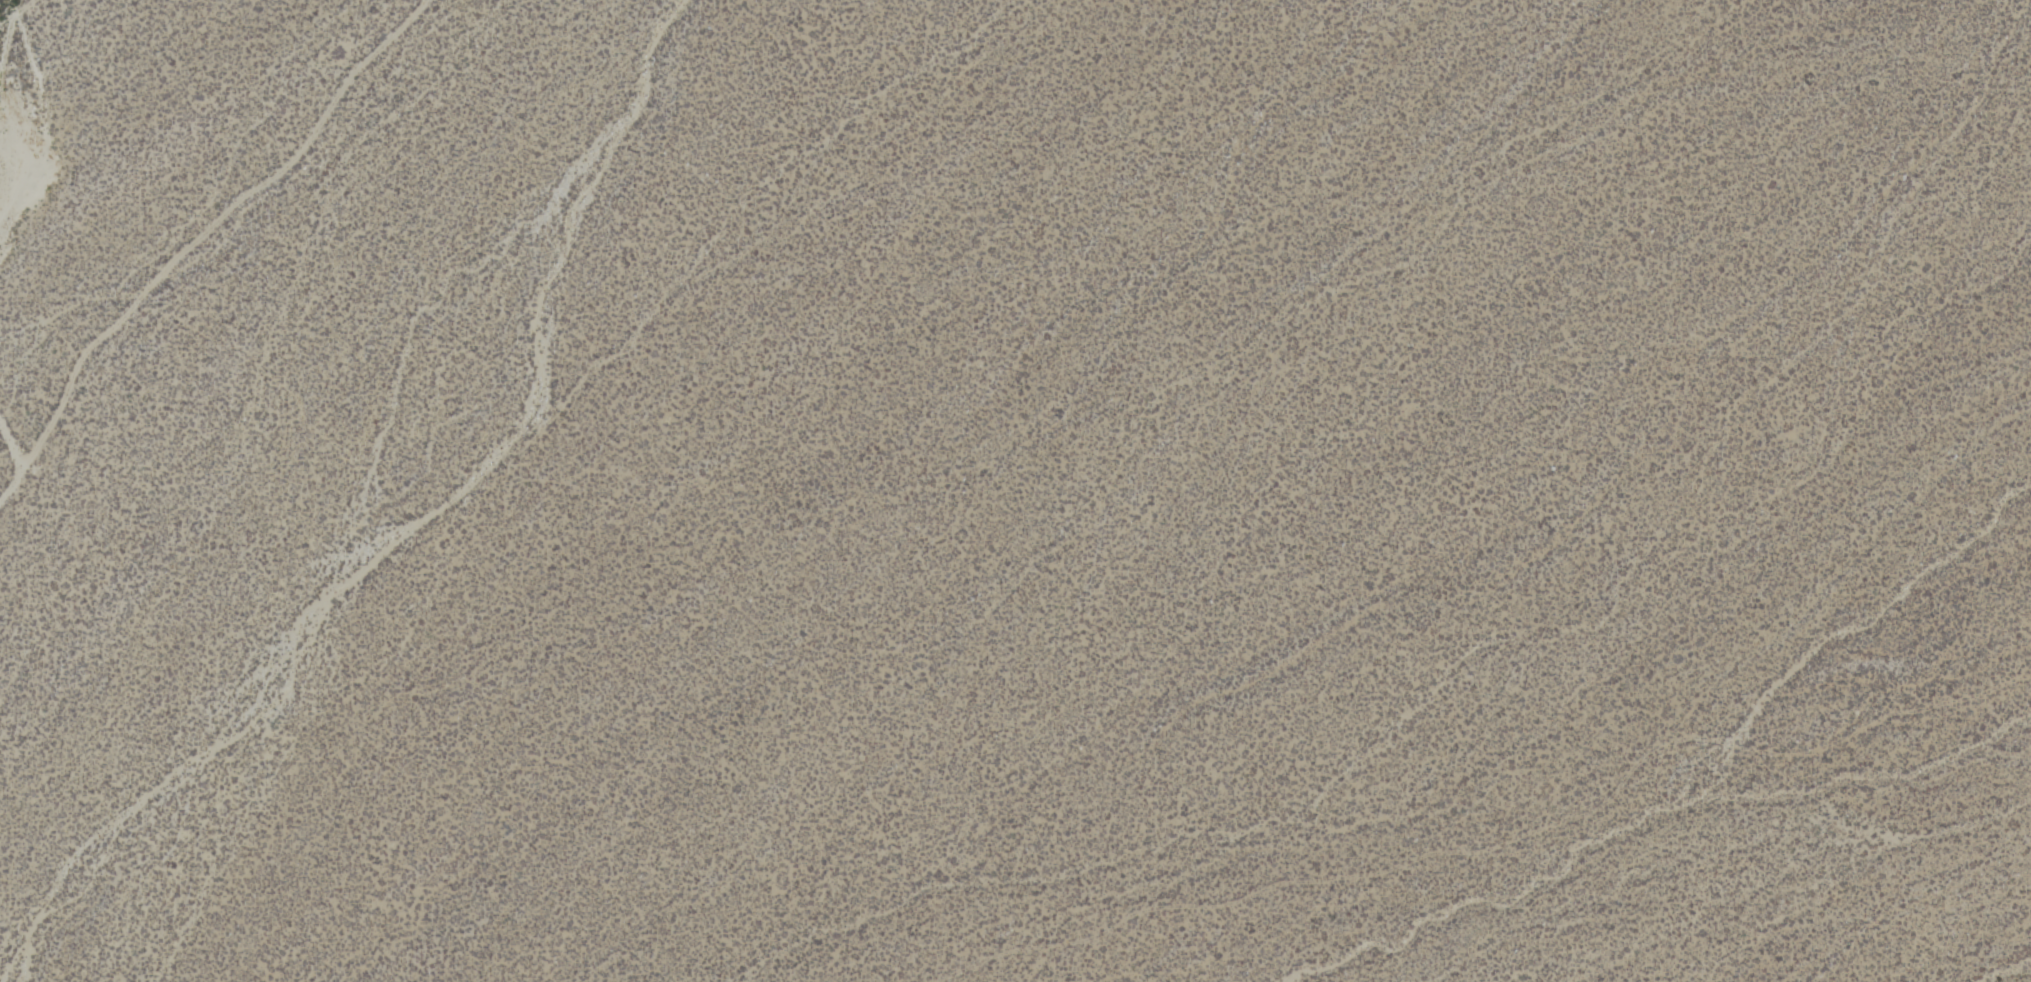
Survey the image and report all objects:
road: (11, 37)
road: (203, 241)
road: (11, 450)
road: (1494, 849)

